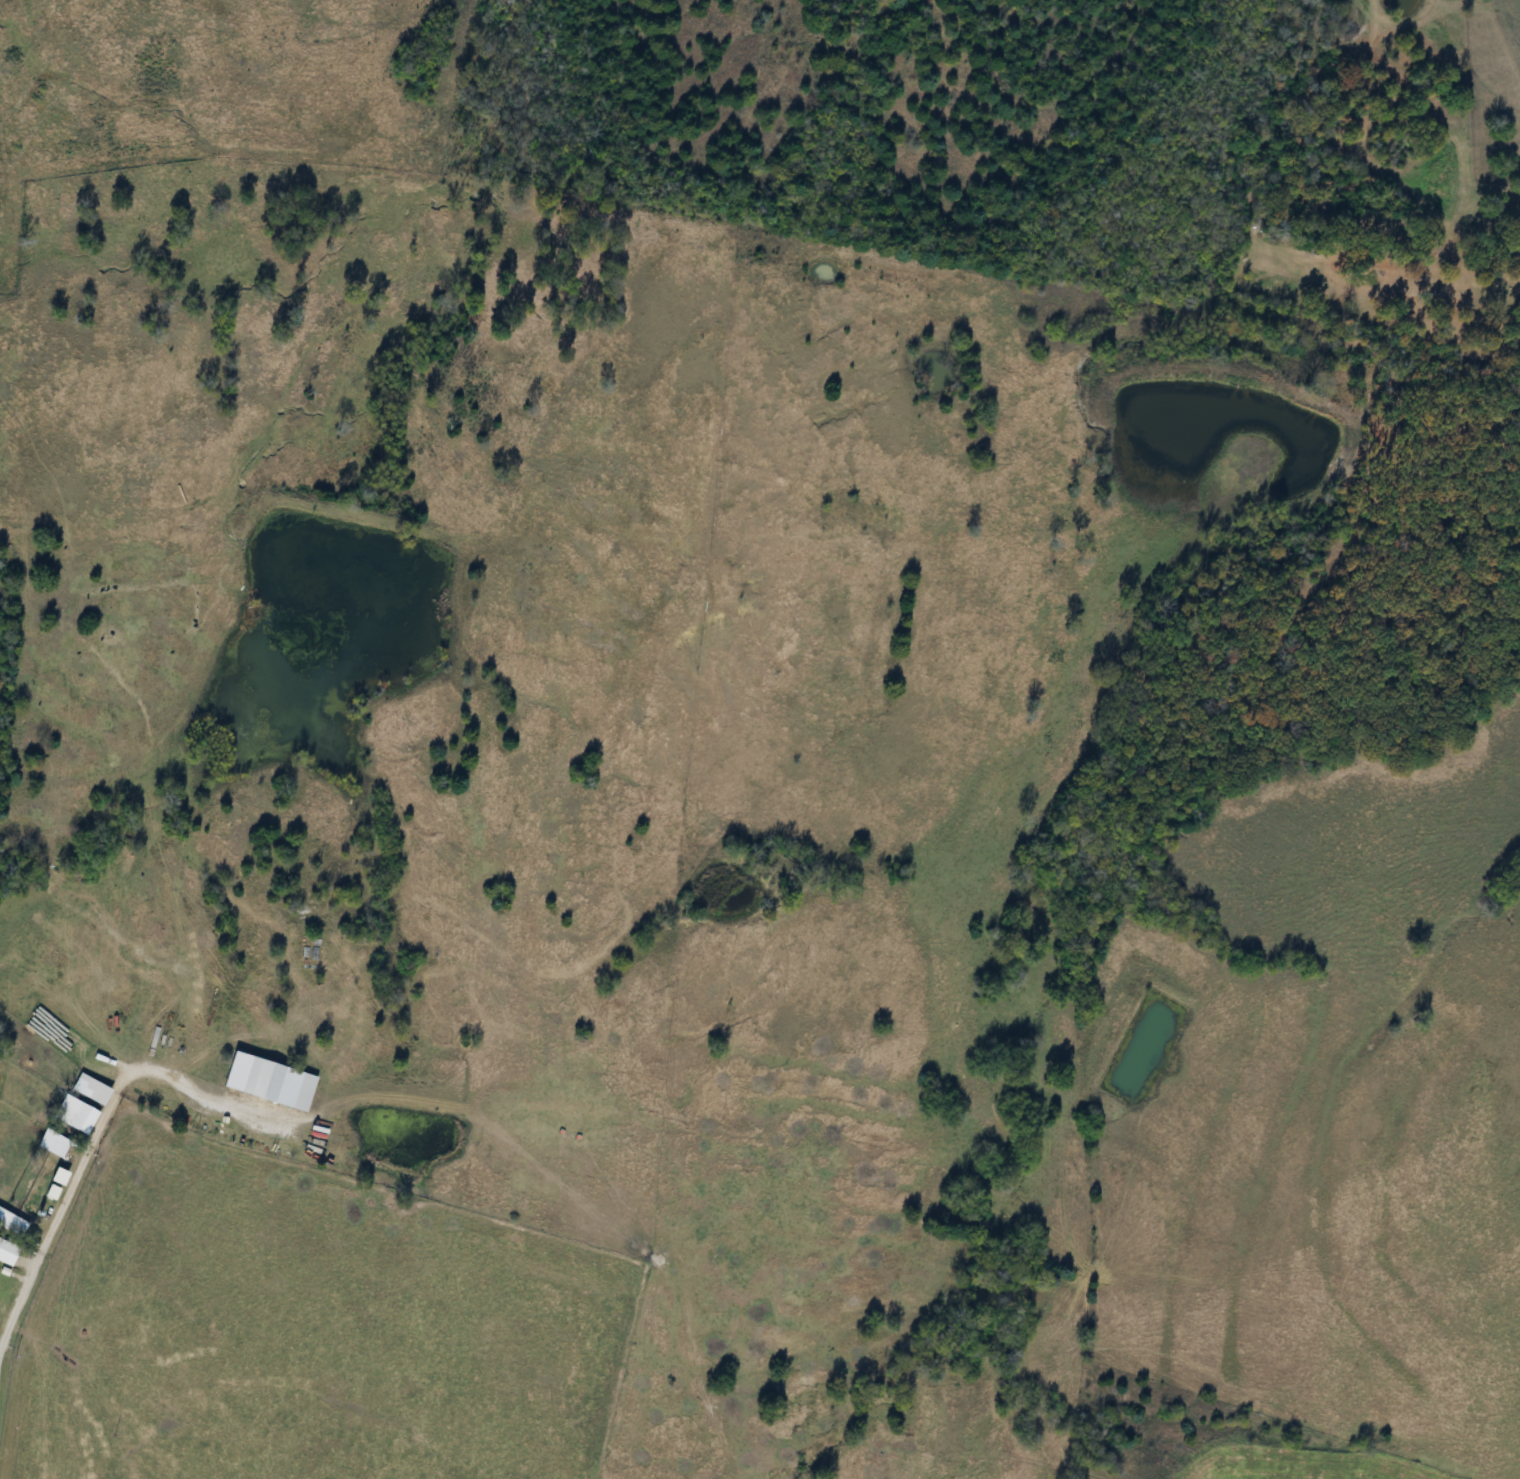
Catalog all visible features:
building: (258, 1081)
building: (87, 1090)
road: (209, 1098)
building: (73, 1116)
building: (49, 1144)
road: (61, 1207)
building: (11, 1224)
building: (5, 1253)

